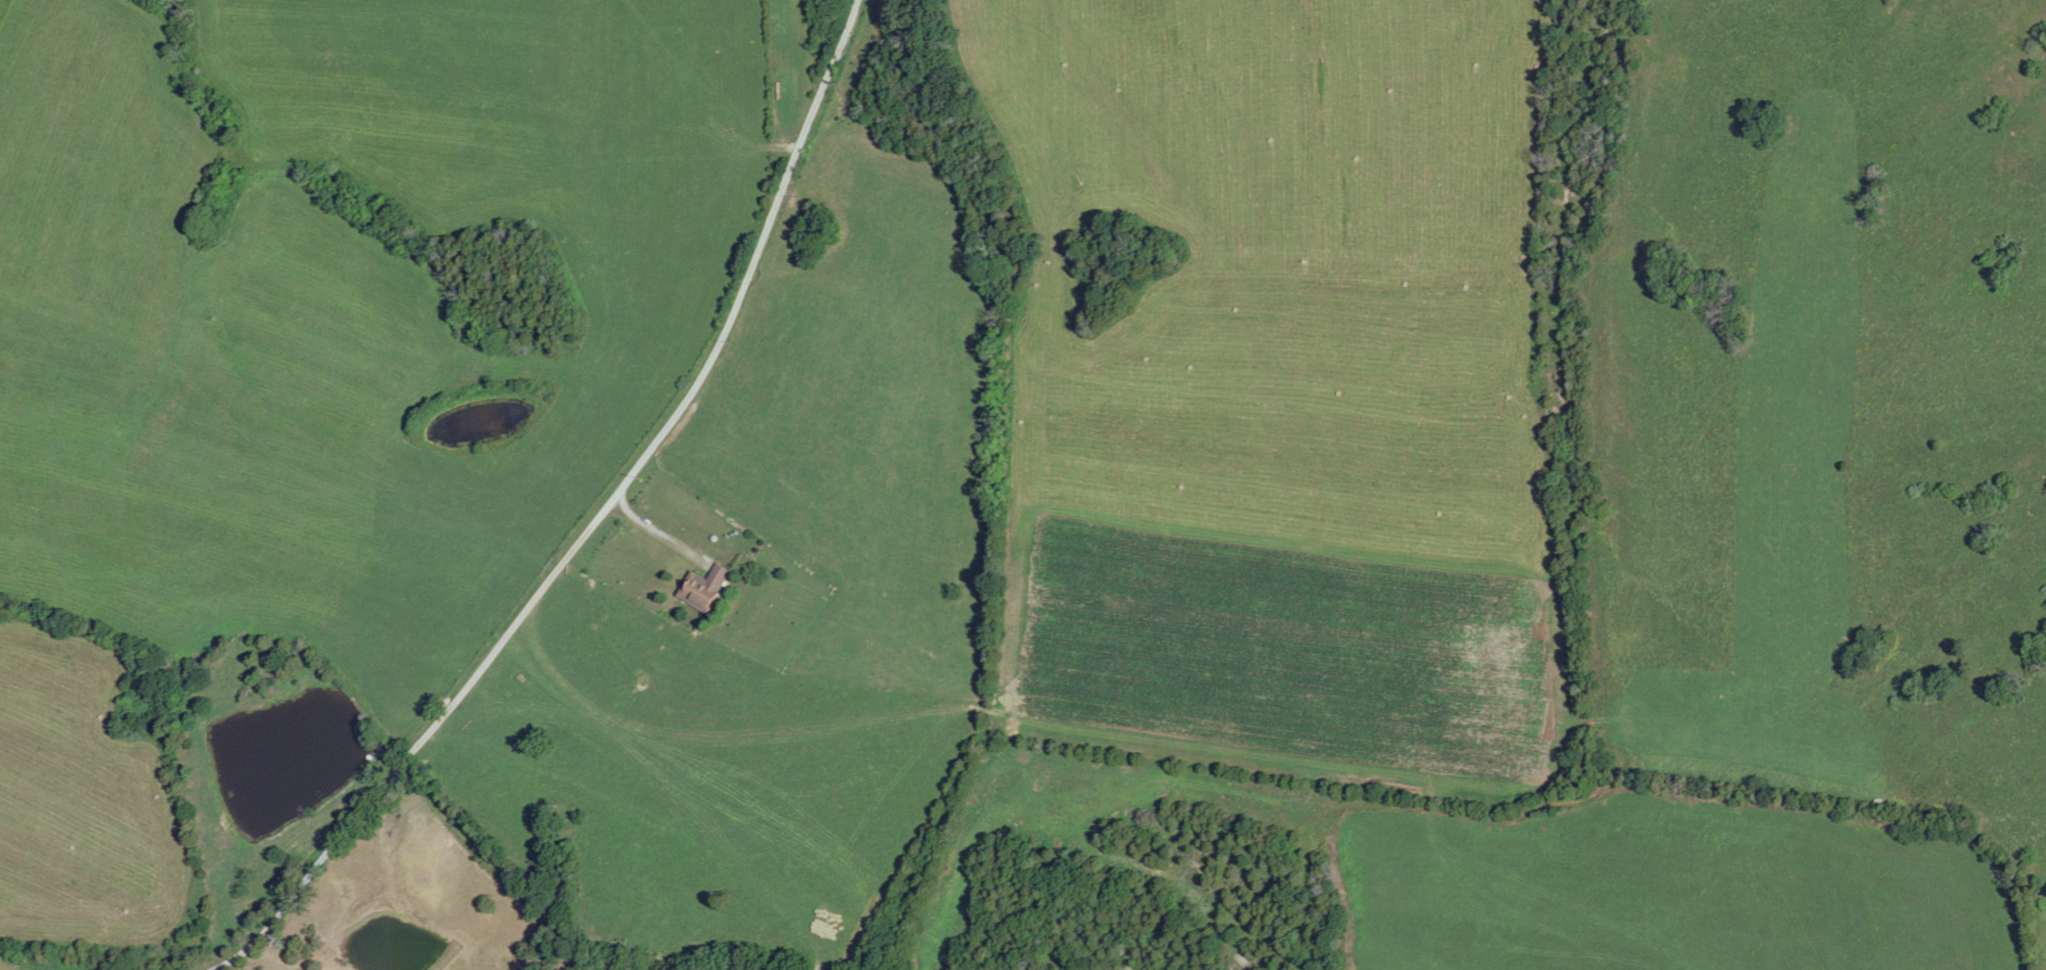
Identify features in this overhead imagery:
building: (707, 588)

